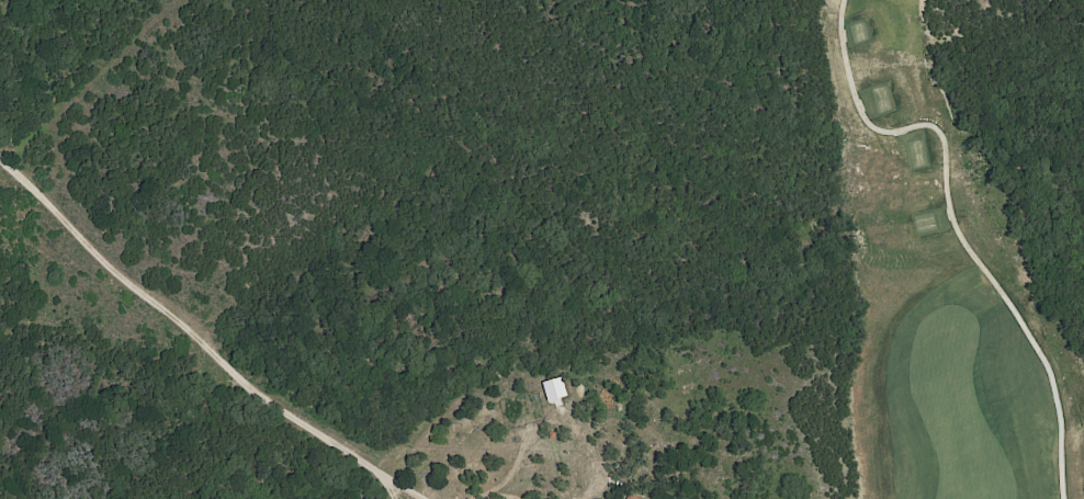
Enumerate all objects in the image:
road: (955, 226)
road: (203, 341)
building: (553, 389)

